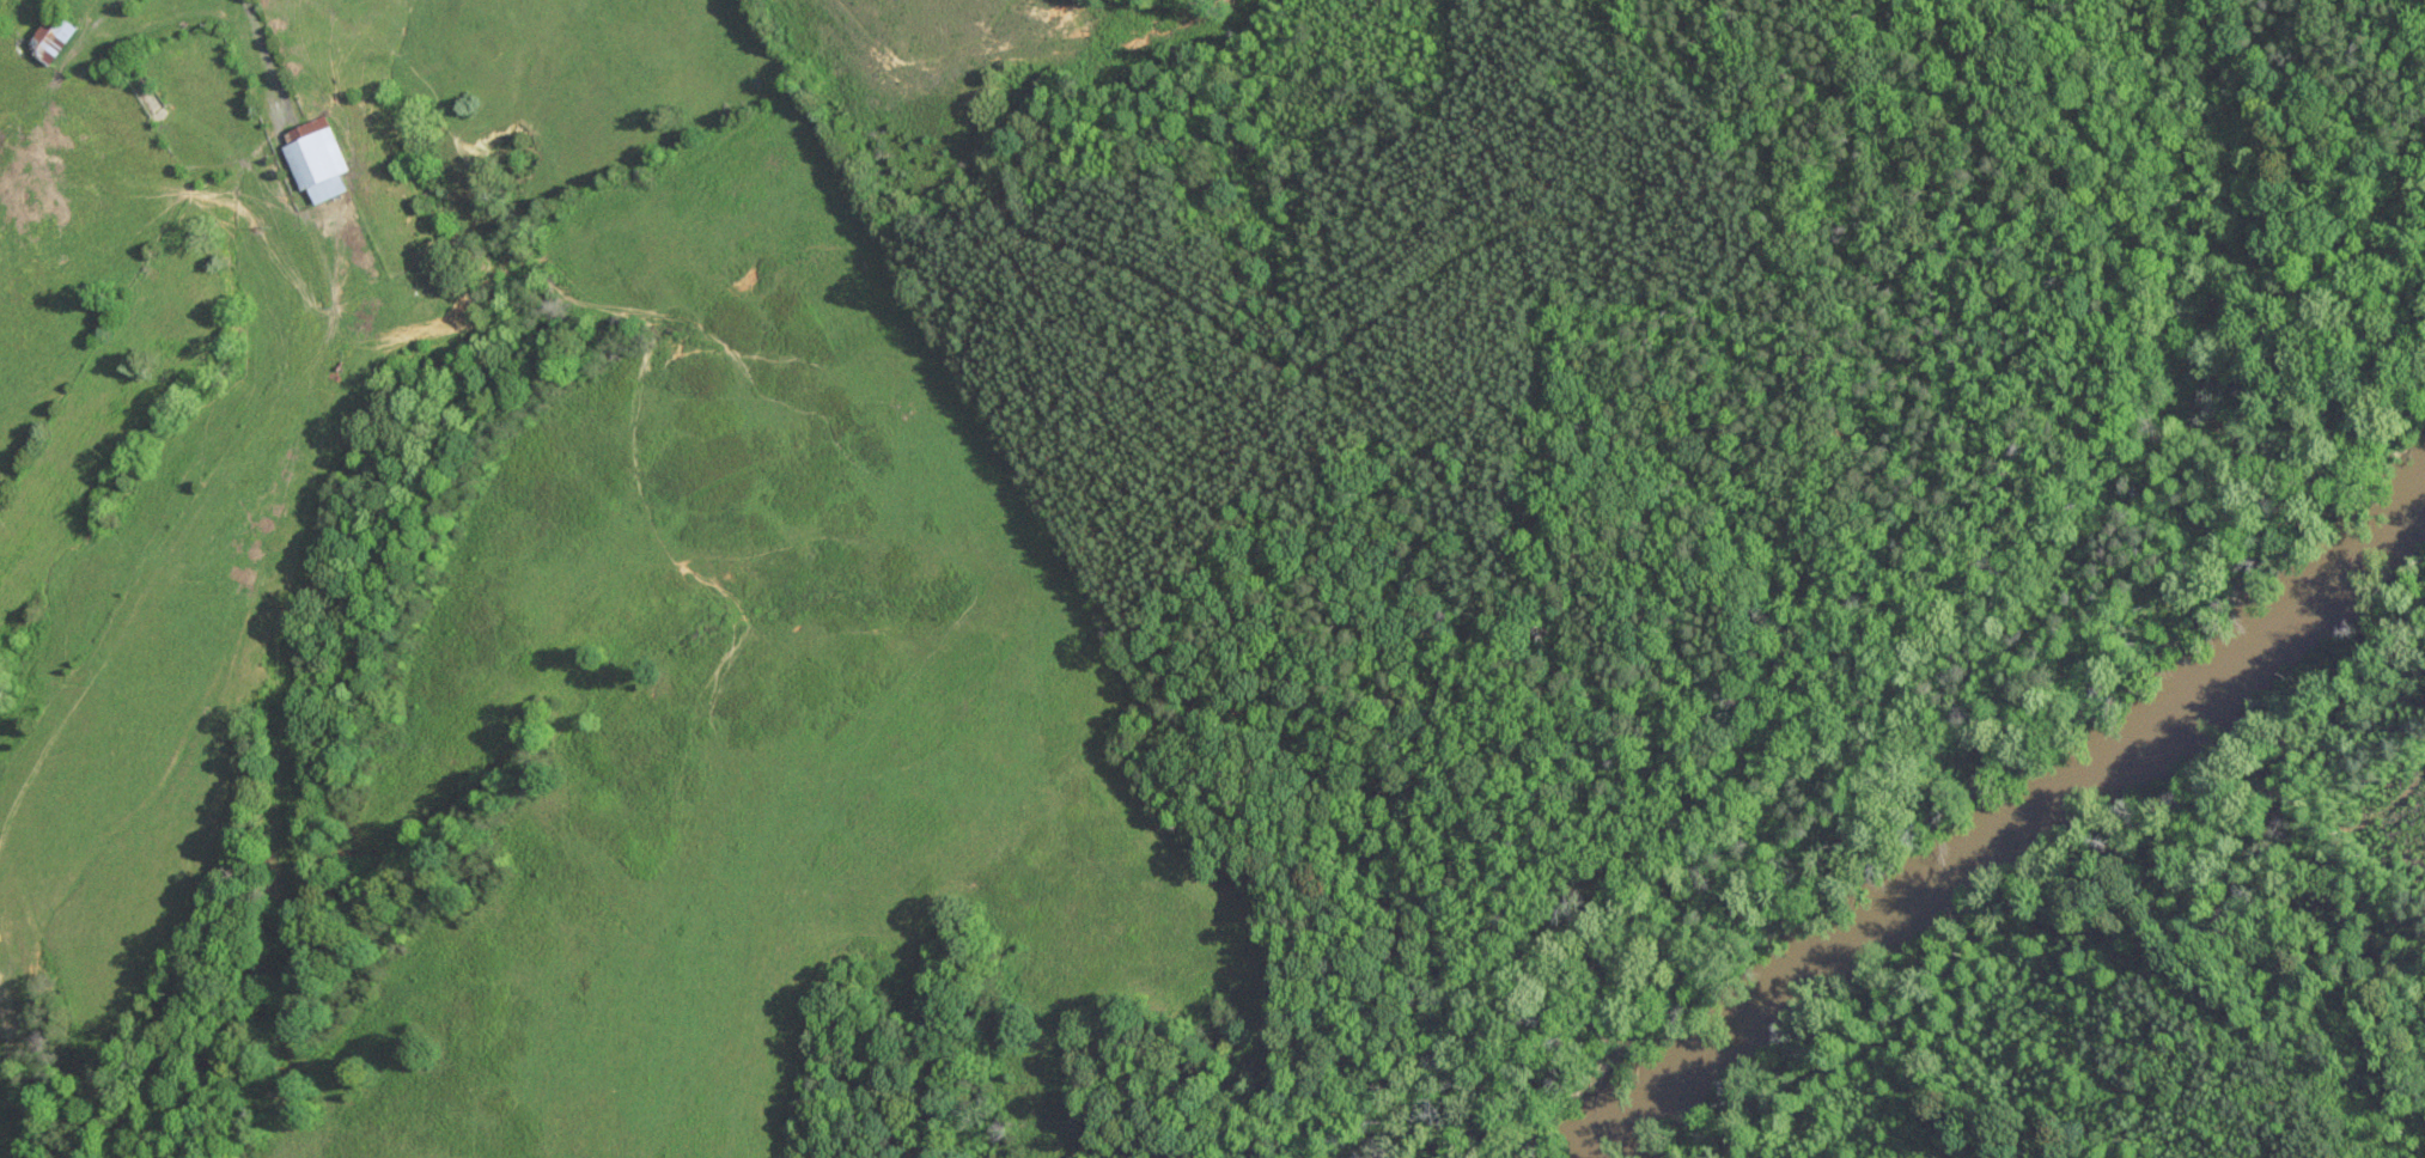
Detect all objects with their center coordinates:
road: (105, 16)
river: (2387, 531)
river: (2241, 687)
river: (1850, 961)

